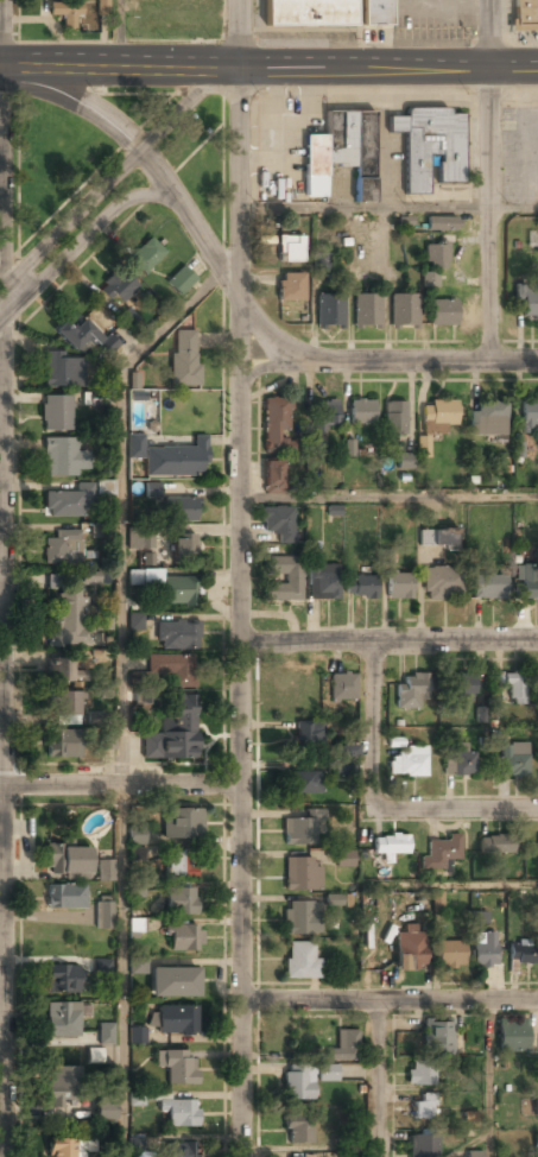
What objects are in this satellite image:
building: (61, 12)
building: (308, 13)
building: (376, 13)
building: (525, 15)
road: (119, 34)
road: (268, 70)
road: (76, 102)
building: (429, 146)
building: (340, 153)
road: (115, 177)
road: (488, 181)
road: (387, 209)
building: (441, 223)
road: (78, 242)
building: (290, 248)
building: (146, 257)
building: (436, 257)
road: (216, 266)
building: (430, 279)
building: (181, 280)
building: (290, 286)
building: (119, 287)
building: (527, 301)
building: (366, 310)
building: (329, 311)
building: (404, 311)
building: (443, 312)
building: (127, 317)
building: (84, 337)
building: (184, 359)
road: (424, 362)
road: (268, 367)
building: (59, 371)
building: (134, 380)
building: (97, 399)
building: (361, 411)
building: (56, 413)
building: (438, 413)
building: (323, 415)
building: (394, 417)
building: (530, 417)
building: (487, 421)
building: (277, 425)
building: (422, 447)
building: (63, 459)
building: (177, 460)
building: (404, 461)
building: (273, 476)
building: (105, 487)
building: (152, 488)
road: (1, 491)
road: (387, 498)
building: (67, 504)
building: (181, 510)
building: (278, 523)
building: (443, 537)
building: (139, 540)
building: (183, 548)
building: (62, 549)
building: (314, 551)
building: (386, 556)
building: (147, 558)
building: (144, 577)
road: (4, 578)
building: (89, 578)
road: (238, 578)
building: (284, 578)
building: (323, 580)
building: (443, 582)
building: (526, 583)
building: (360, 586)
building: (399, 586)
building: (489, 587)
building: (175, 590)
building: (103, 618)
building: (68, 620)
building: (135, 621)
building: (177, 636)
road: (387, 640)
building: (175, 669)
building: (65, 671)
building: (342, 685)
building: (461, 687)
building: (517, 689)
building: (412, 691)
road: (122, 695)
building: (141, 697)
building: (65, 709)
road: (373, 726)
building: (173, 731)
building: (309, 736)
building: (63, 744)
building: (514, 760)
building: (342, 761)
building: (407, 763)
building: (458, 763)
building: (306, 783)
road: (120, 785)
road: (456, 811)
building: (182, 823)
building: (302, 829)
building: (137, 835)
building: (391, 845)
building: (495, 845)
building: (137, 853)
building: (439, 853)
building: (343, 859)
building: (68, 860)
building: (181, 865)
building: (105, 871)
building: (302, 874)
road: (451, 886)
building: (137, 889)
building: (65, 898)
building: (181, 900)
building: (437, 902)
building: (103, 913)
building: (477, 917)
building: (300, 918)
building: (137, 924)
building: (184, 937)
building: (483, 949)
building: (410, 951)
building: (523, 951)
building: (450, 954)
building: (300, 960)
building: (138, 965)
building: (102, 966)
building: (62, 980)
building: (172, 982)
road: (390, 999)
building: (62, 1020)
building: (176, 1020)
building: (106, 1033)
building: (137, 1035)
building: (512, 1036)
building: (437, 1038)
building: (343, 1048)
building: (94, 1055)
building: (177, 1066)
road: (2, 1069)
building: (327, 1073)
building: (420, 1075)
road: (379, 1077)
road: (489, 1077)
building: (298, 1083)
building: (61, 1086)
building: (105, 1107)
building: (536, 1107)
building: (422, 1109)
building: (181, 1112)
building: (299, 1130)
building: (423, 1146)
building: (61, 1147)
building: (536, 1147)
building: (179, 1150)
building: (474, 1153)
building: (93, 1155)
building: (347, 1155)

